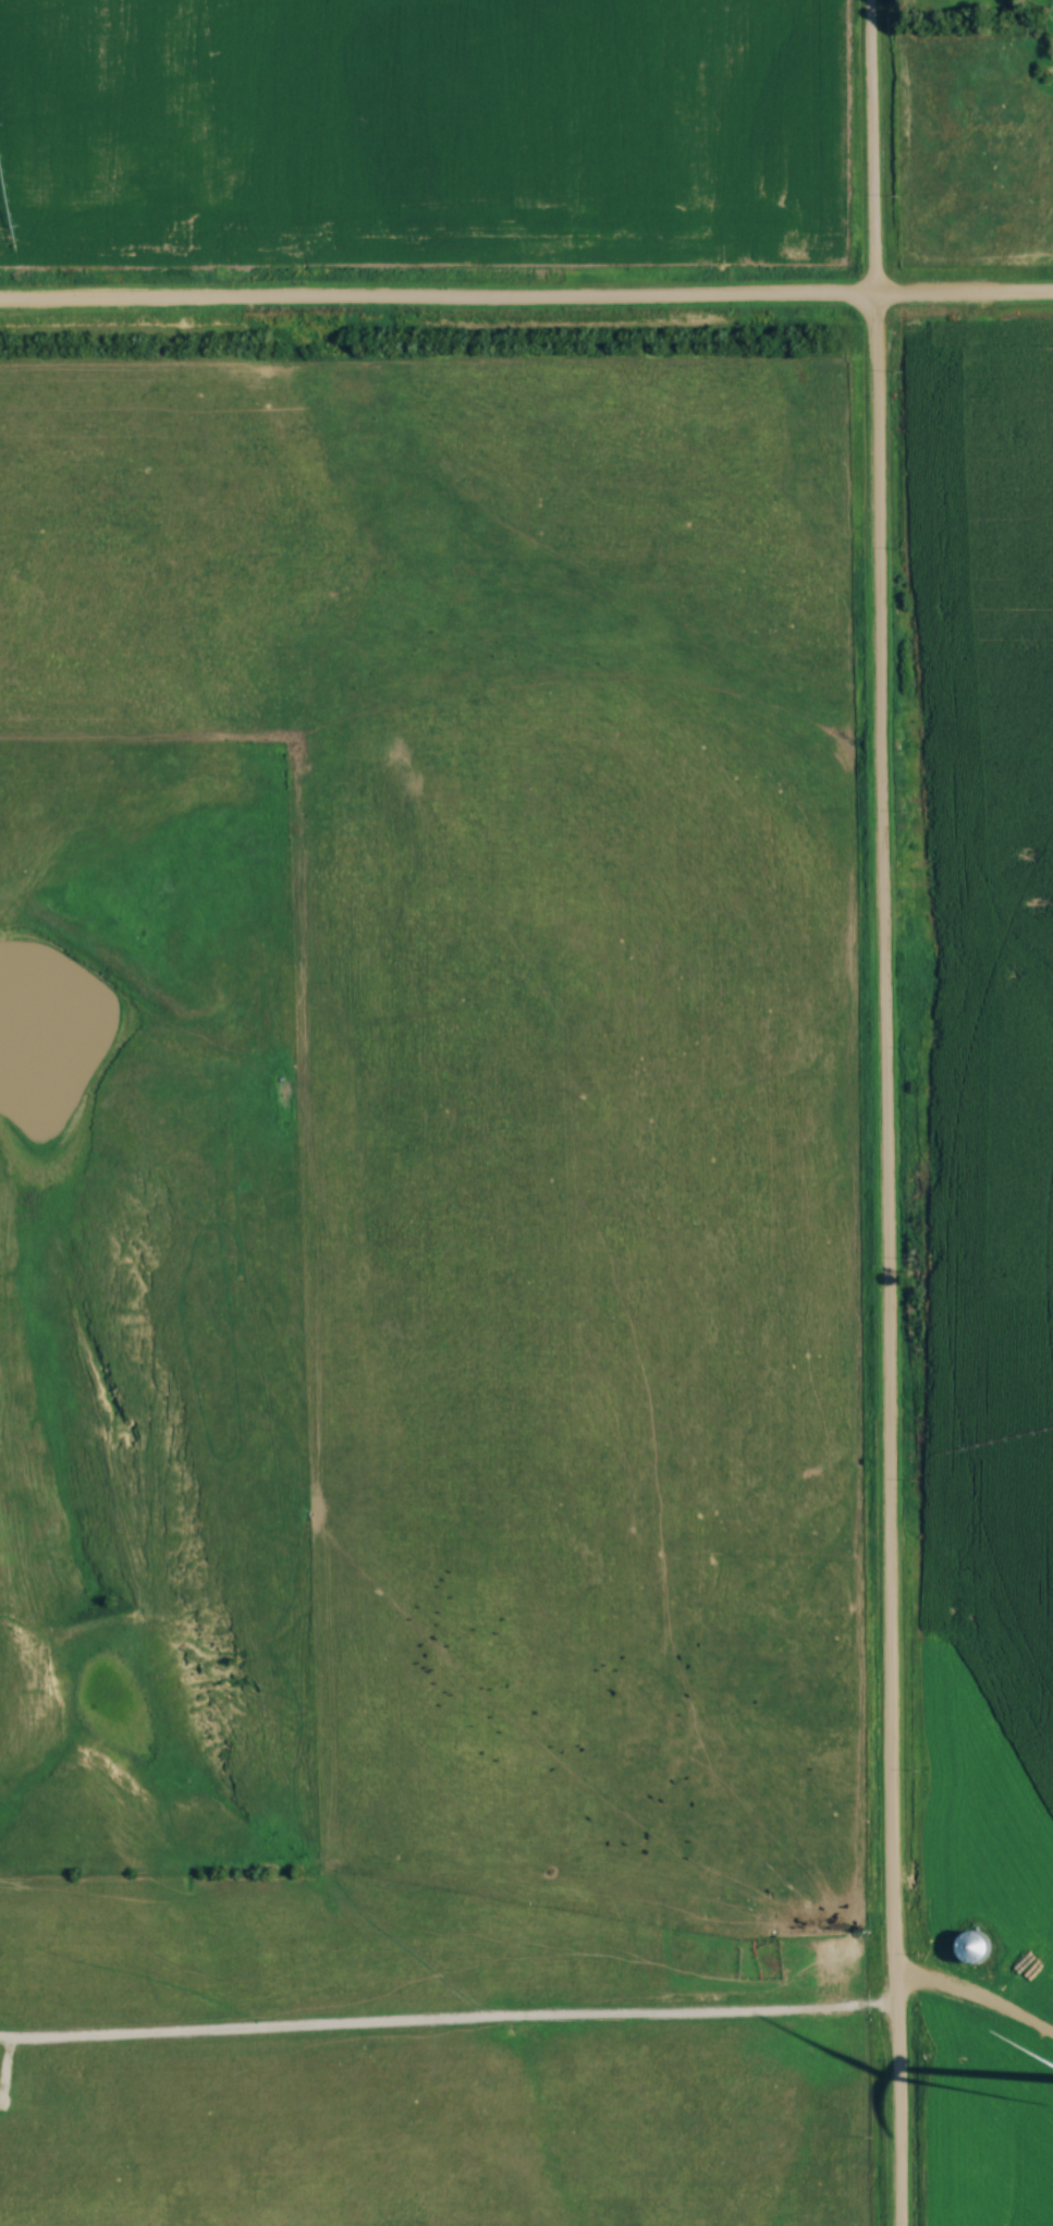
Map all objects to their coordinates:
road: (869, 150)
road: (962, 300)
road: (434, 302)
road: (887, 1263)
building: (638, 1756)
building: (792, 1914)
road: (628, 1941)
road: (780, 2008)
road: (329, 2023)
road: (5, 2066)

